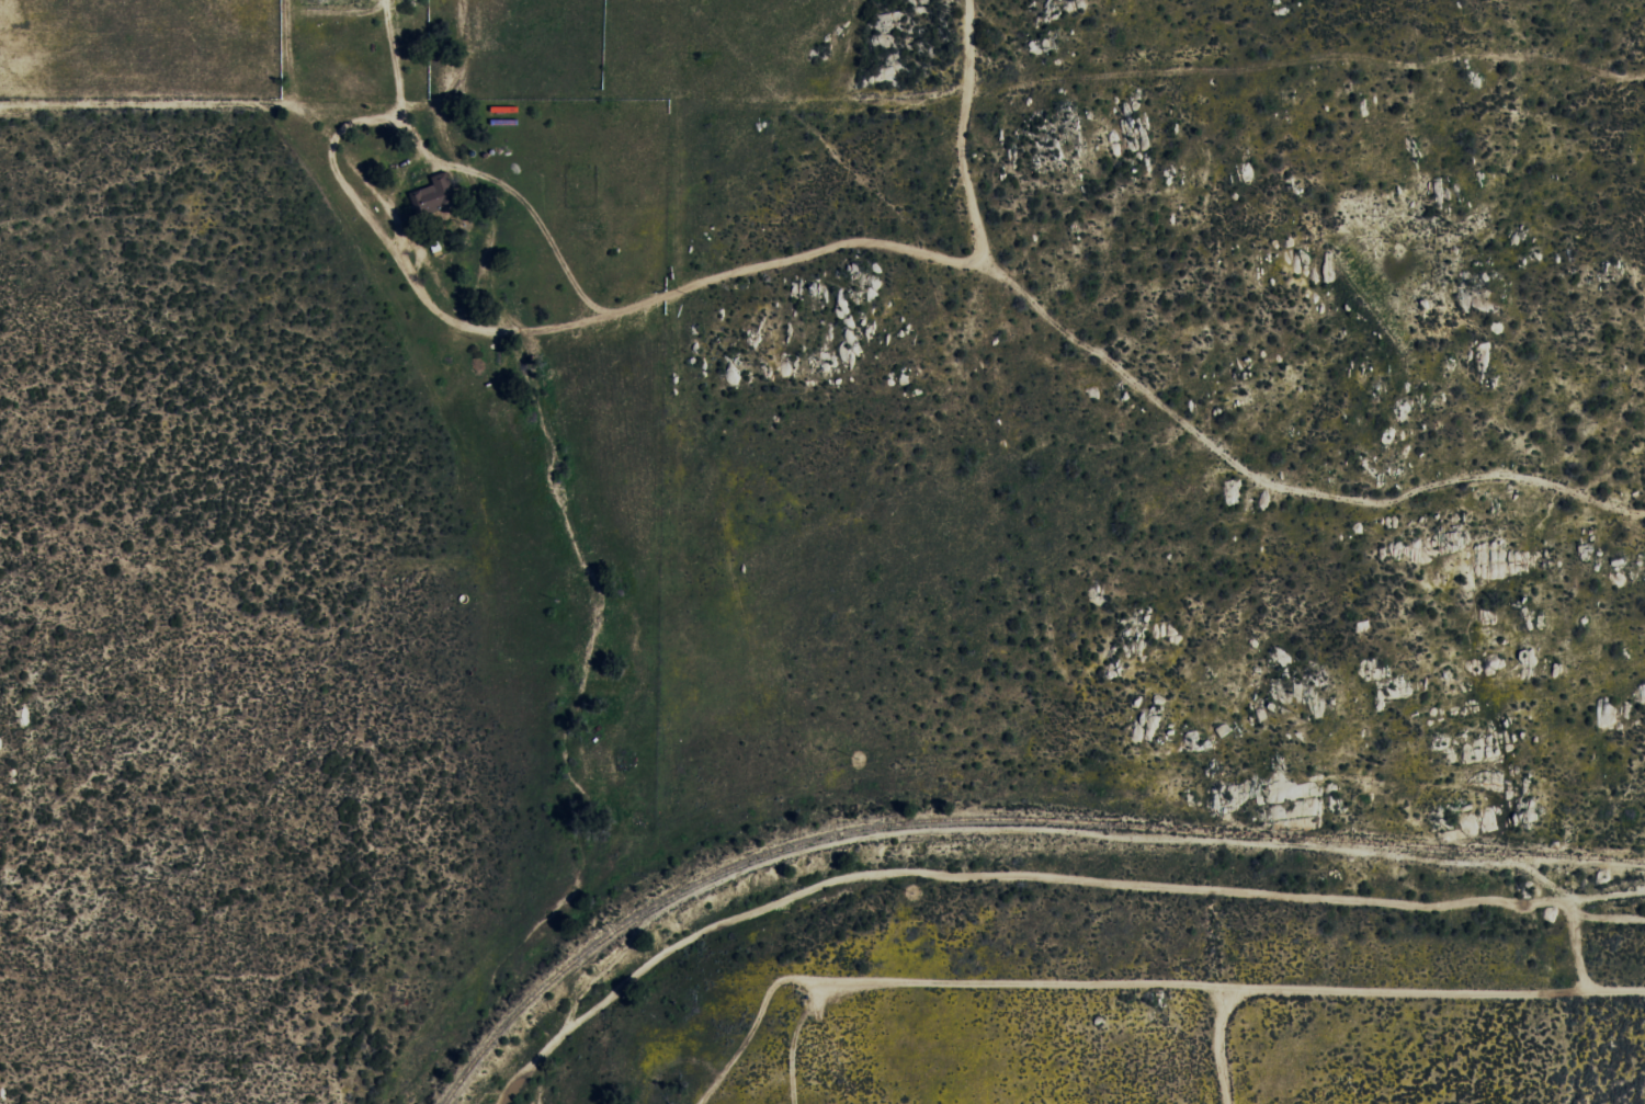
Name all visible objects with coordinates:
road: (321, 73)
building: (431, 196)
railway: (996, 819)
road: (1634, 992)
road: (1376, 998)

